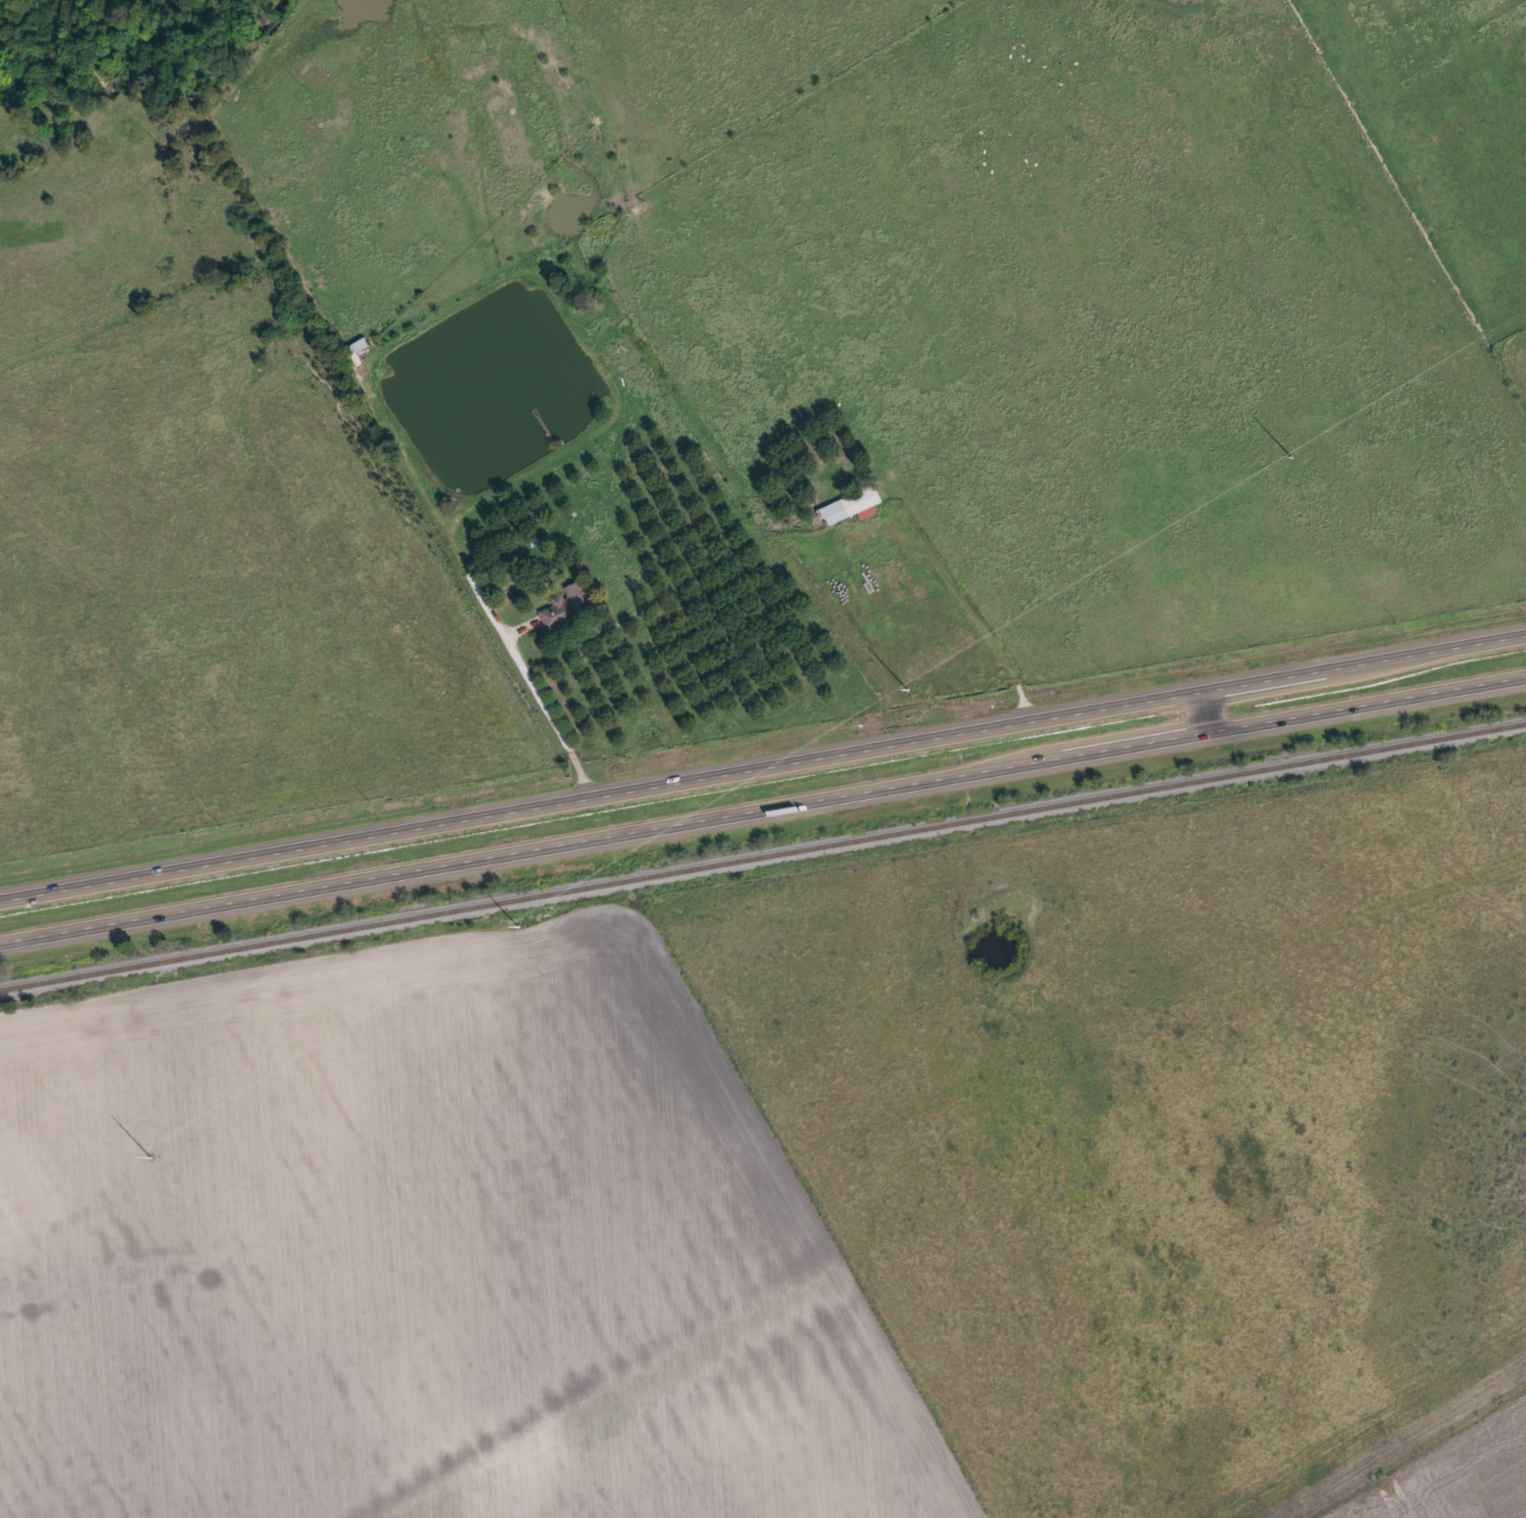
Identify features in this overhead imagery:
building: (353, 353)
building: (850, 506)
building: (564, 609)
road: (971, 613)
road: (515, 654)
road: (1199, 713)
road: (762, 763)
road: (763, 803)
railway: (763, 858)

